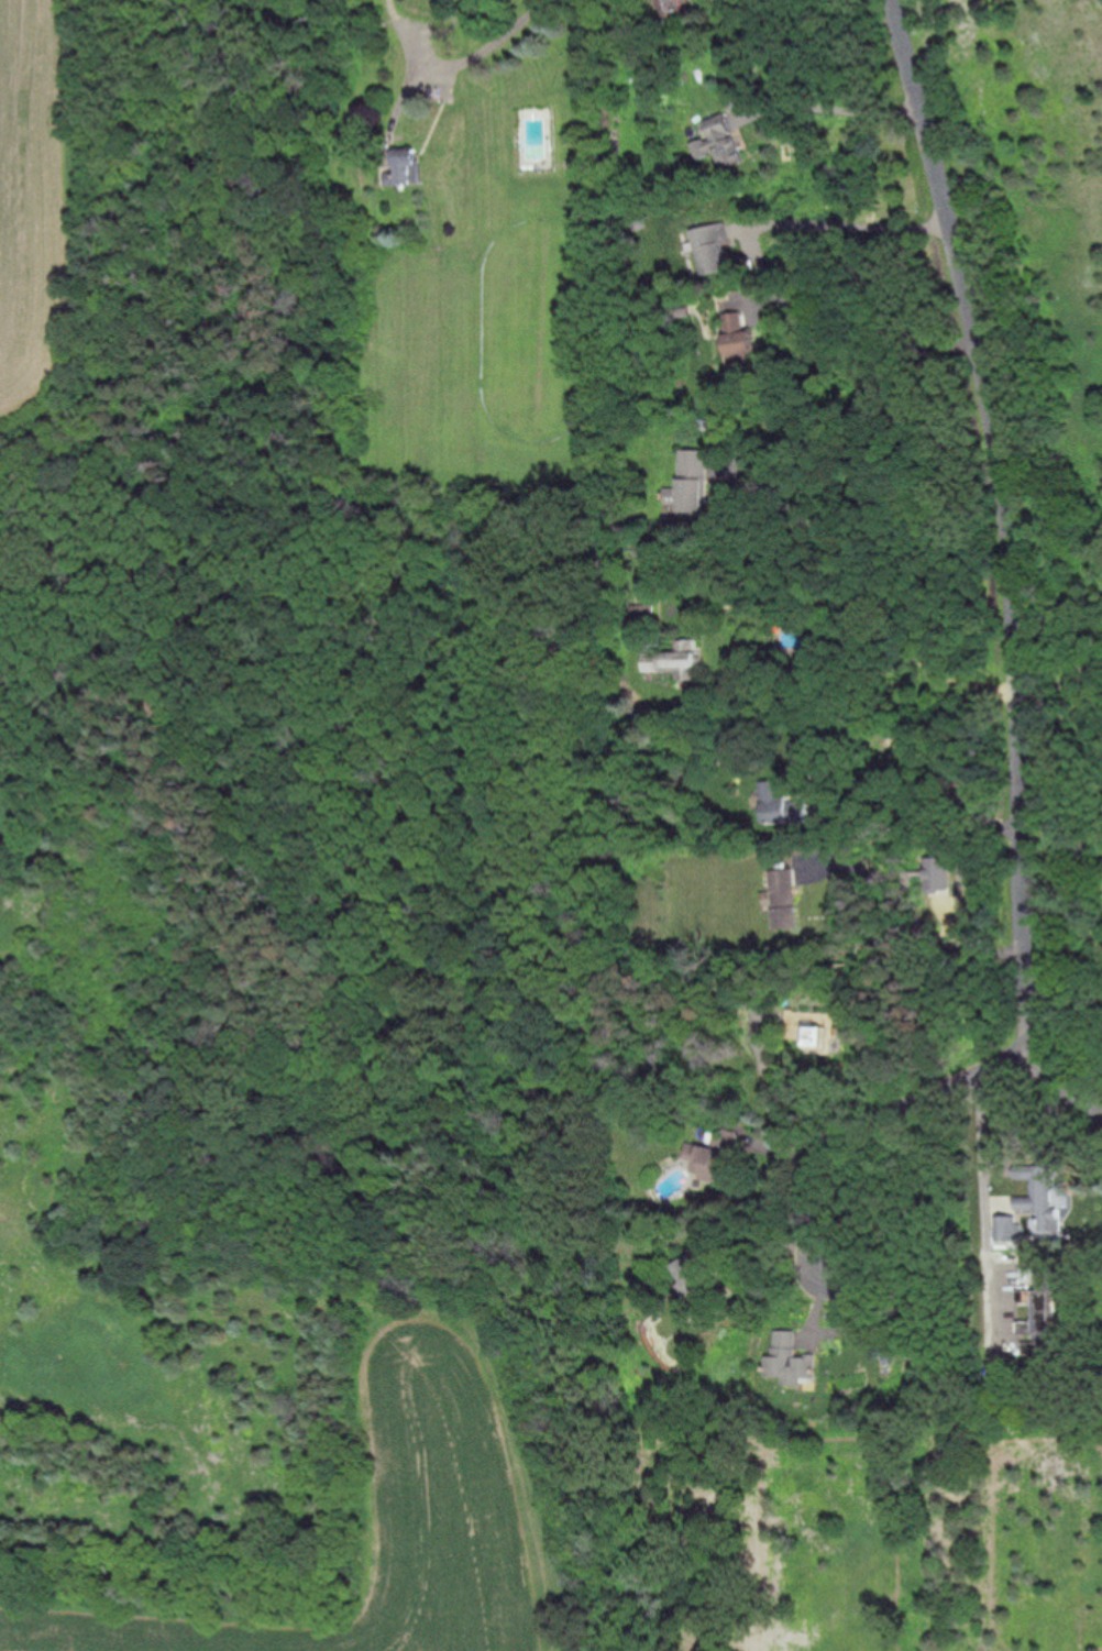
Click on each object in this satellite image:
building: (671, 8)
road: (453, 64)
road: (826, 108)
building: (717, 142)
building: (404, 167)
building: (639, 223)
road: (848, 225)
building: (710, 246)
crop: (172, 252)
building: (683, 309)
road: (868, 321)
building: (737, 334)
building: (704, 423)
building: (690, 482)
road: (853, 492)
road: (1007, 569)
road: (855, 607)
building: (643, 613)
building: (676, 660)
building: (807, 749)
road: (922, 786)
building: (781, 804)
building: (935, 873)
building: (784, 898)
building: (814, 1030)
road: (767, 1097)
road: (868, 1121)
building: (1017, 1136)
building: (714, 1158)
building: (1039, 1166)
road: (982, 1206)
building: (1040, 1207)
building: (1005, 1229)
building: (1042, 1277)
building: (695, 1280)
building: (1035, 1298)
building: (1035, 1323)
building: (1042, 1344)
building: (787, 1360)
building: (998, 1364)
crop: (299, 1471)

